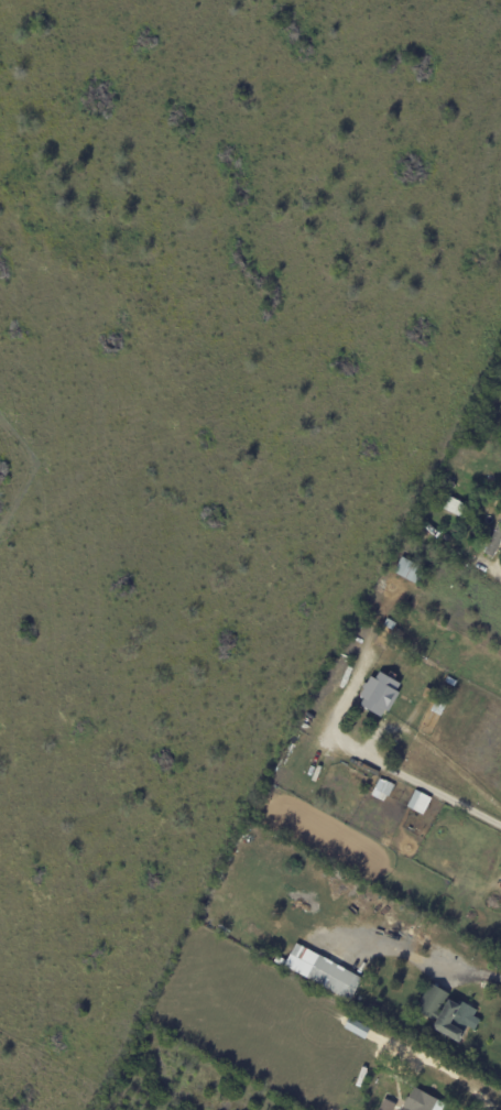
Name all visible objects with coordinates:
building: (451, 501)
building: (428, 541)
road: (453, 543)
building: (494, 543)
building: (410, 572)
building: (362, 620)
building: (383, 704)
road: (384, 750)
building: (417, 803)
building: (409, 810)
building: (500, 894)
building: (450, 903)
road: (414, 951)
building: (335, 979)
building: (448, 1015)
building: (355, 1027)
building: (423, 1101)

